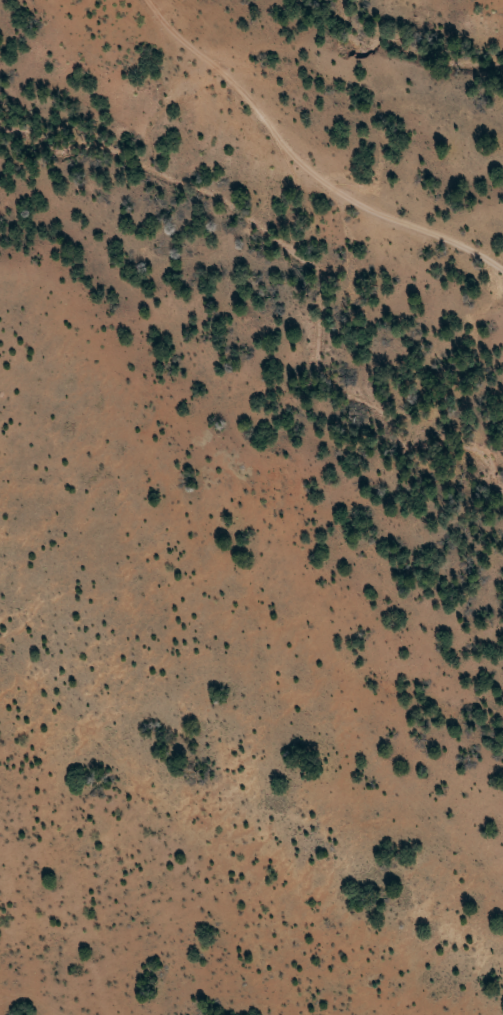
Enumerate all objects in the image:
road: (304, 168)
road: (56, 942)

